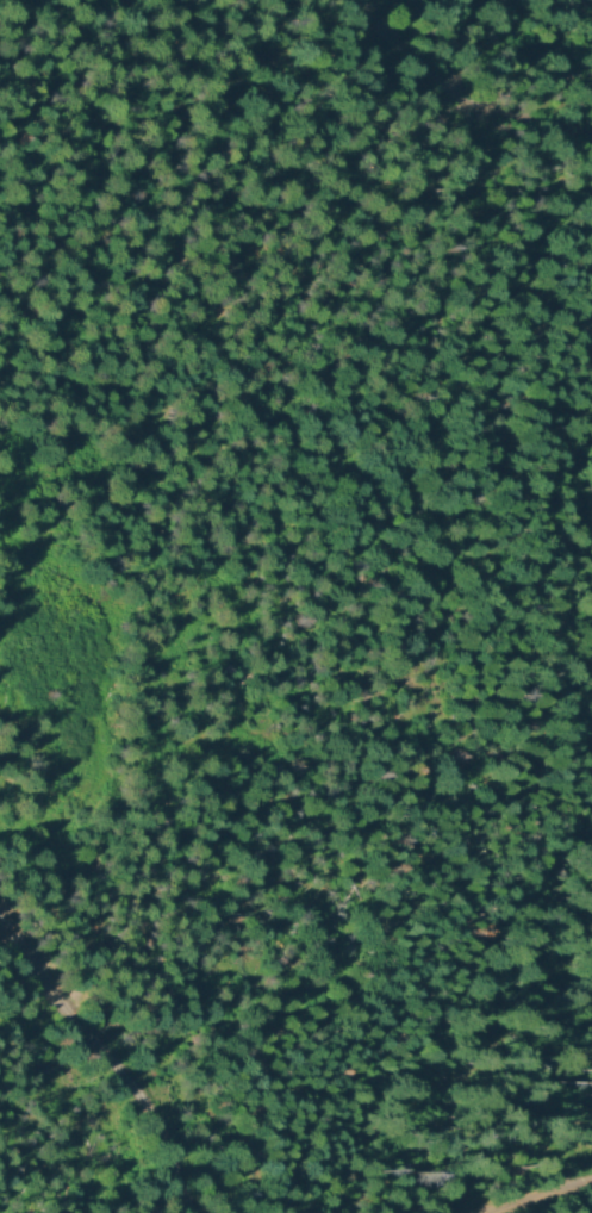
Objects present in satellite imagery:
road: (459, 94)
road: (94, 1064)
road: (534, 1194)

